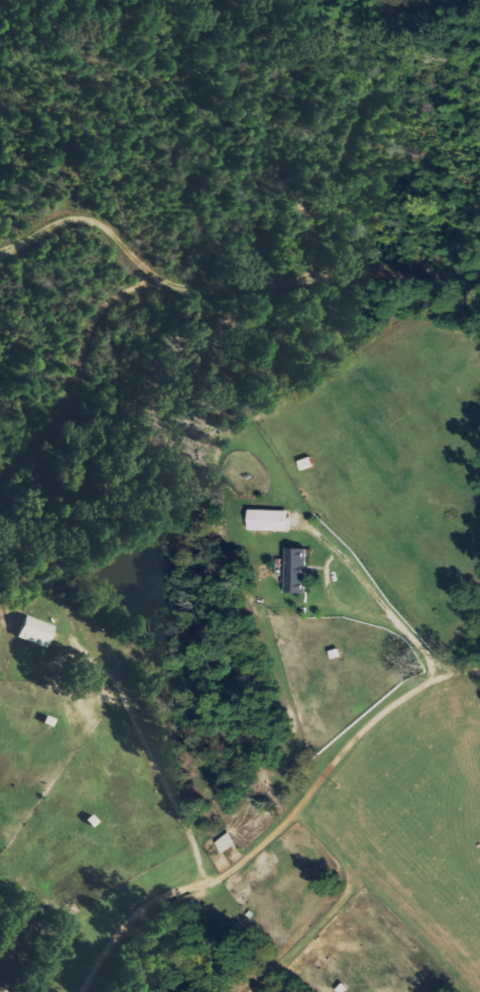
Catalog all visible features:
building: (270, 520)
building: (297, 571)
building: (34, 631)
building: (227, 843)
building: (13, 943)

